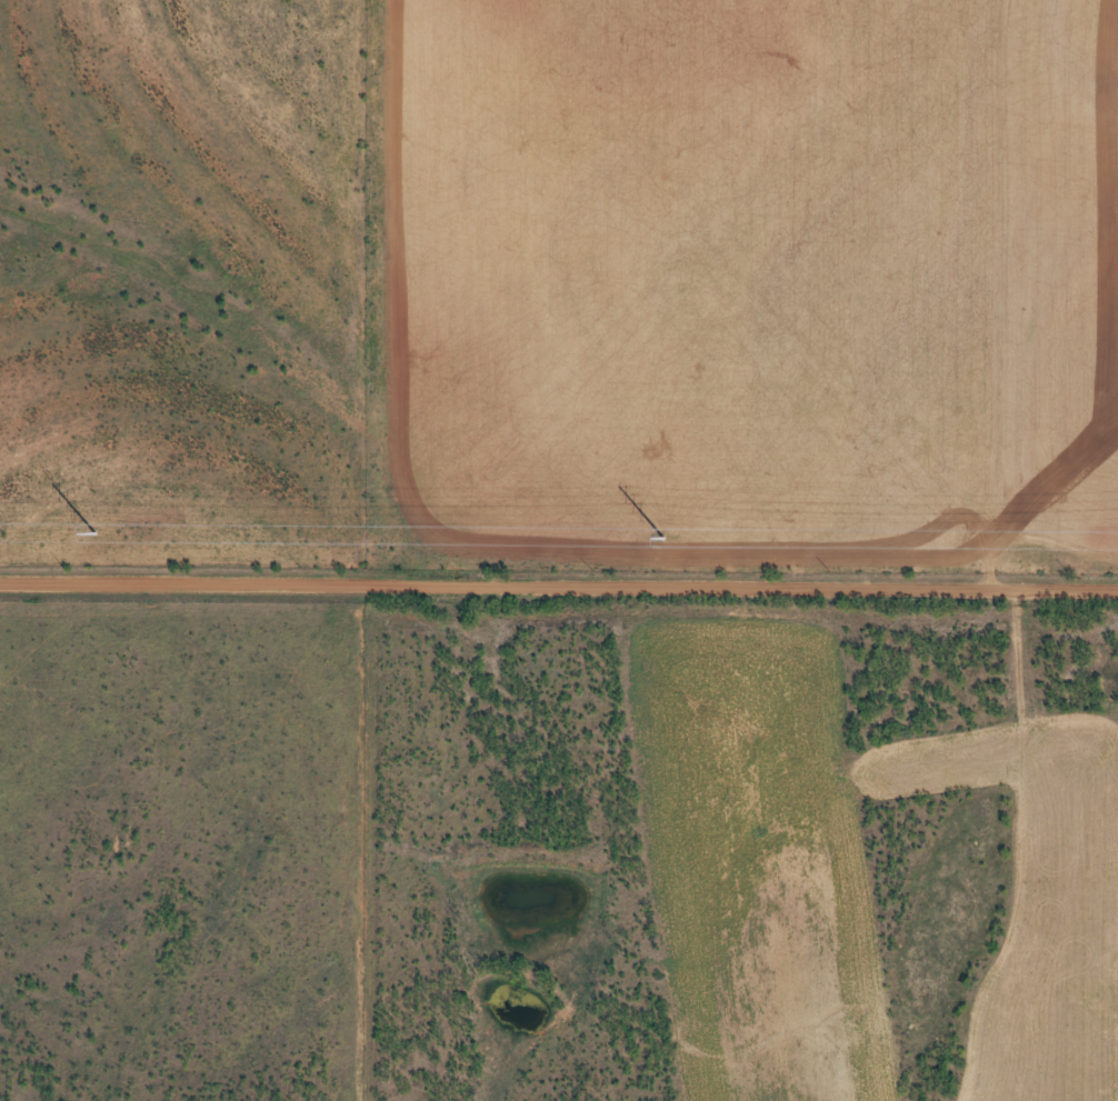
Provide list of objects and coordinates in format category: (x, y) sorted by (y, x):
power tower: (94, 533)
power tower: (662, 538)
road: (559, 579)

